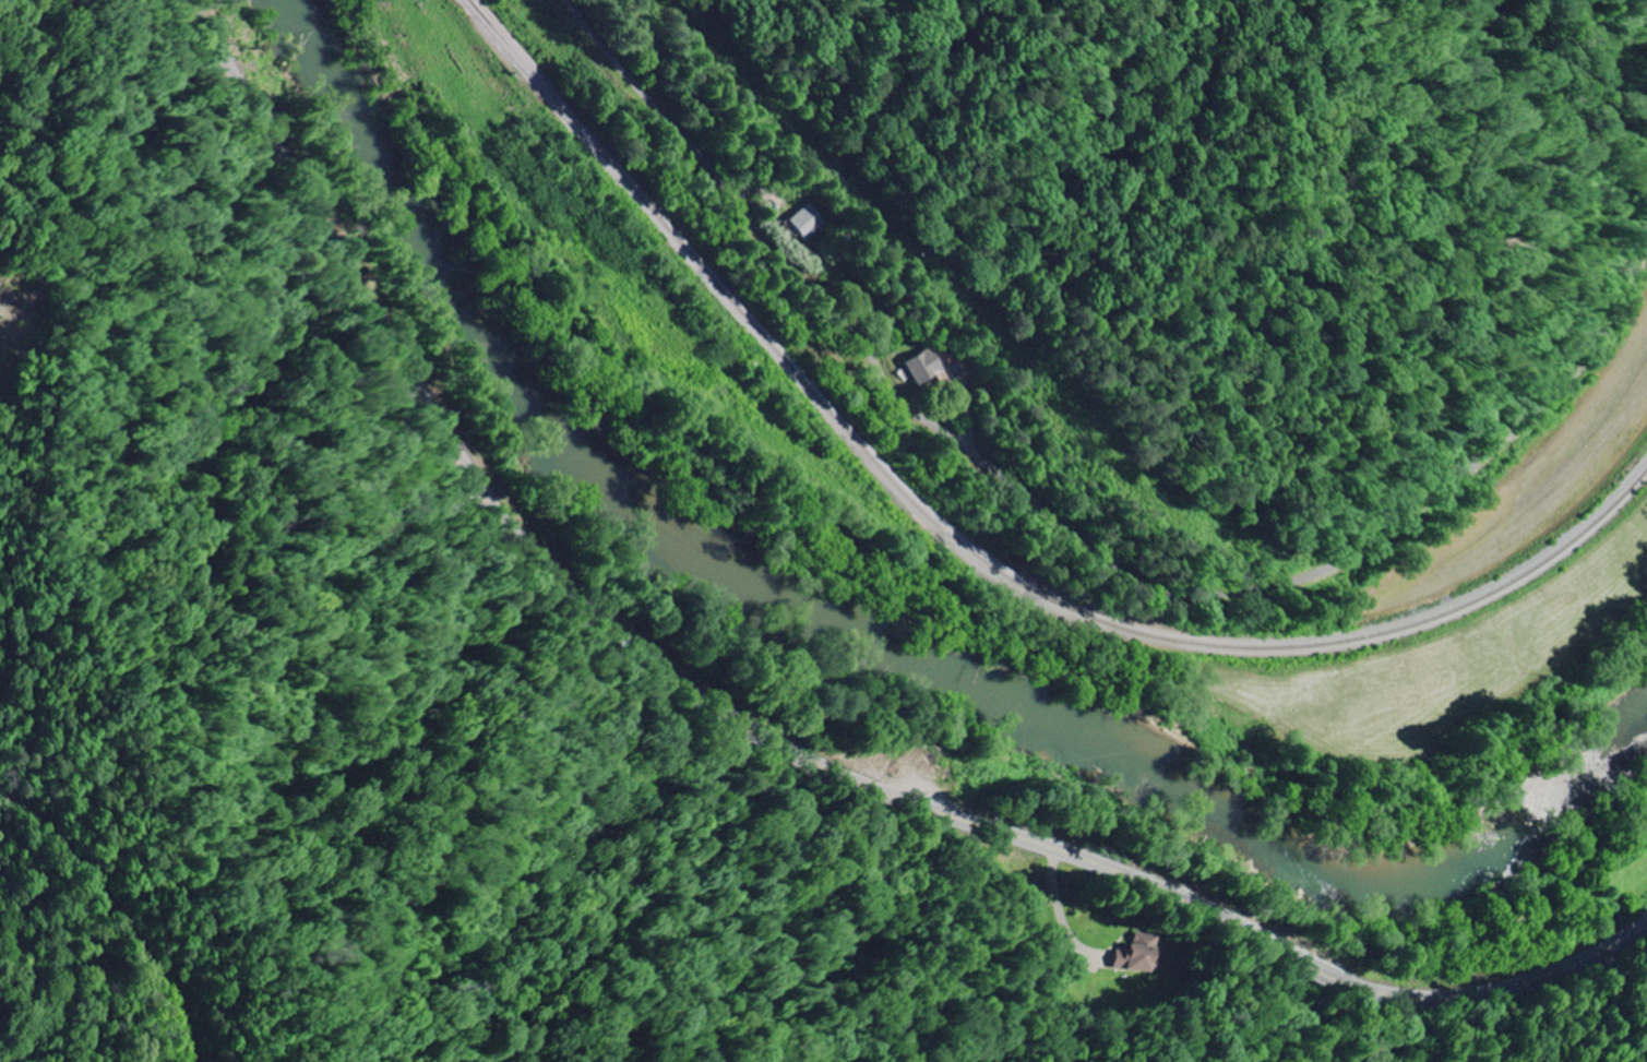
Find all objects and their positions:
building: (803, 223)
building: (922, 368)
road: (1071, 530)
railway: (972, 552)
river: (862, 633)
road: (764, 735)
building: (1138, 953)

